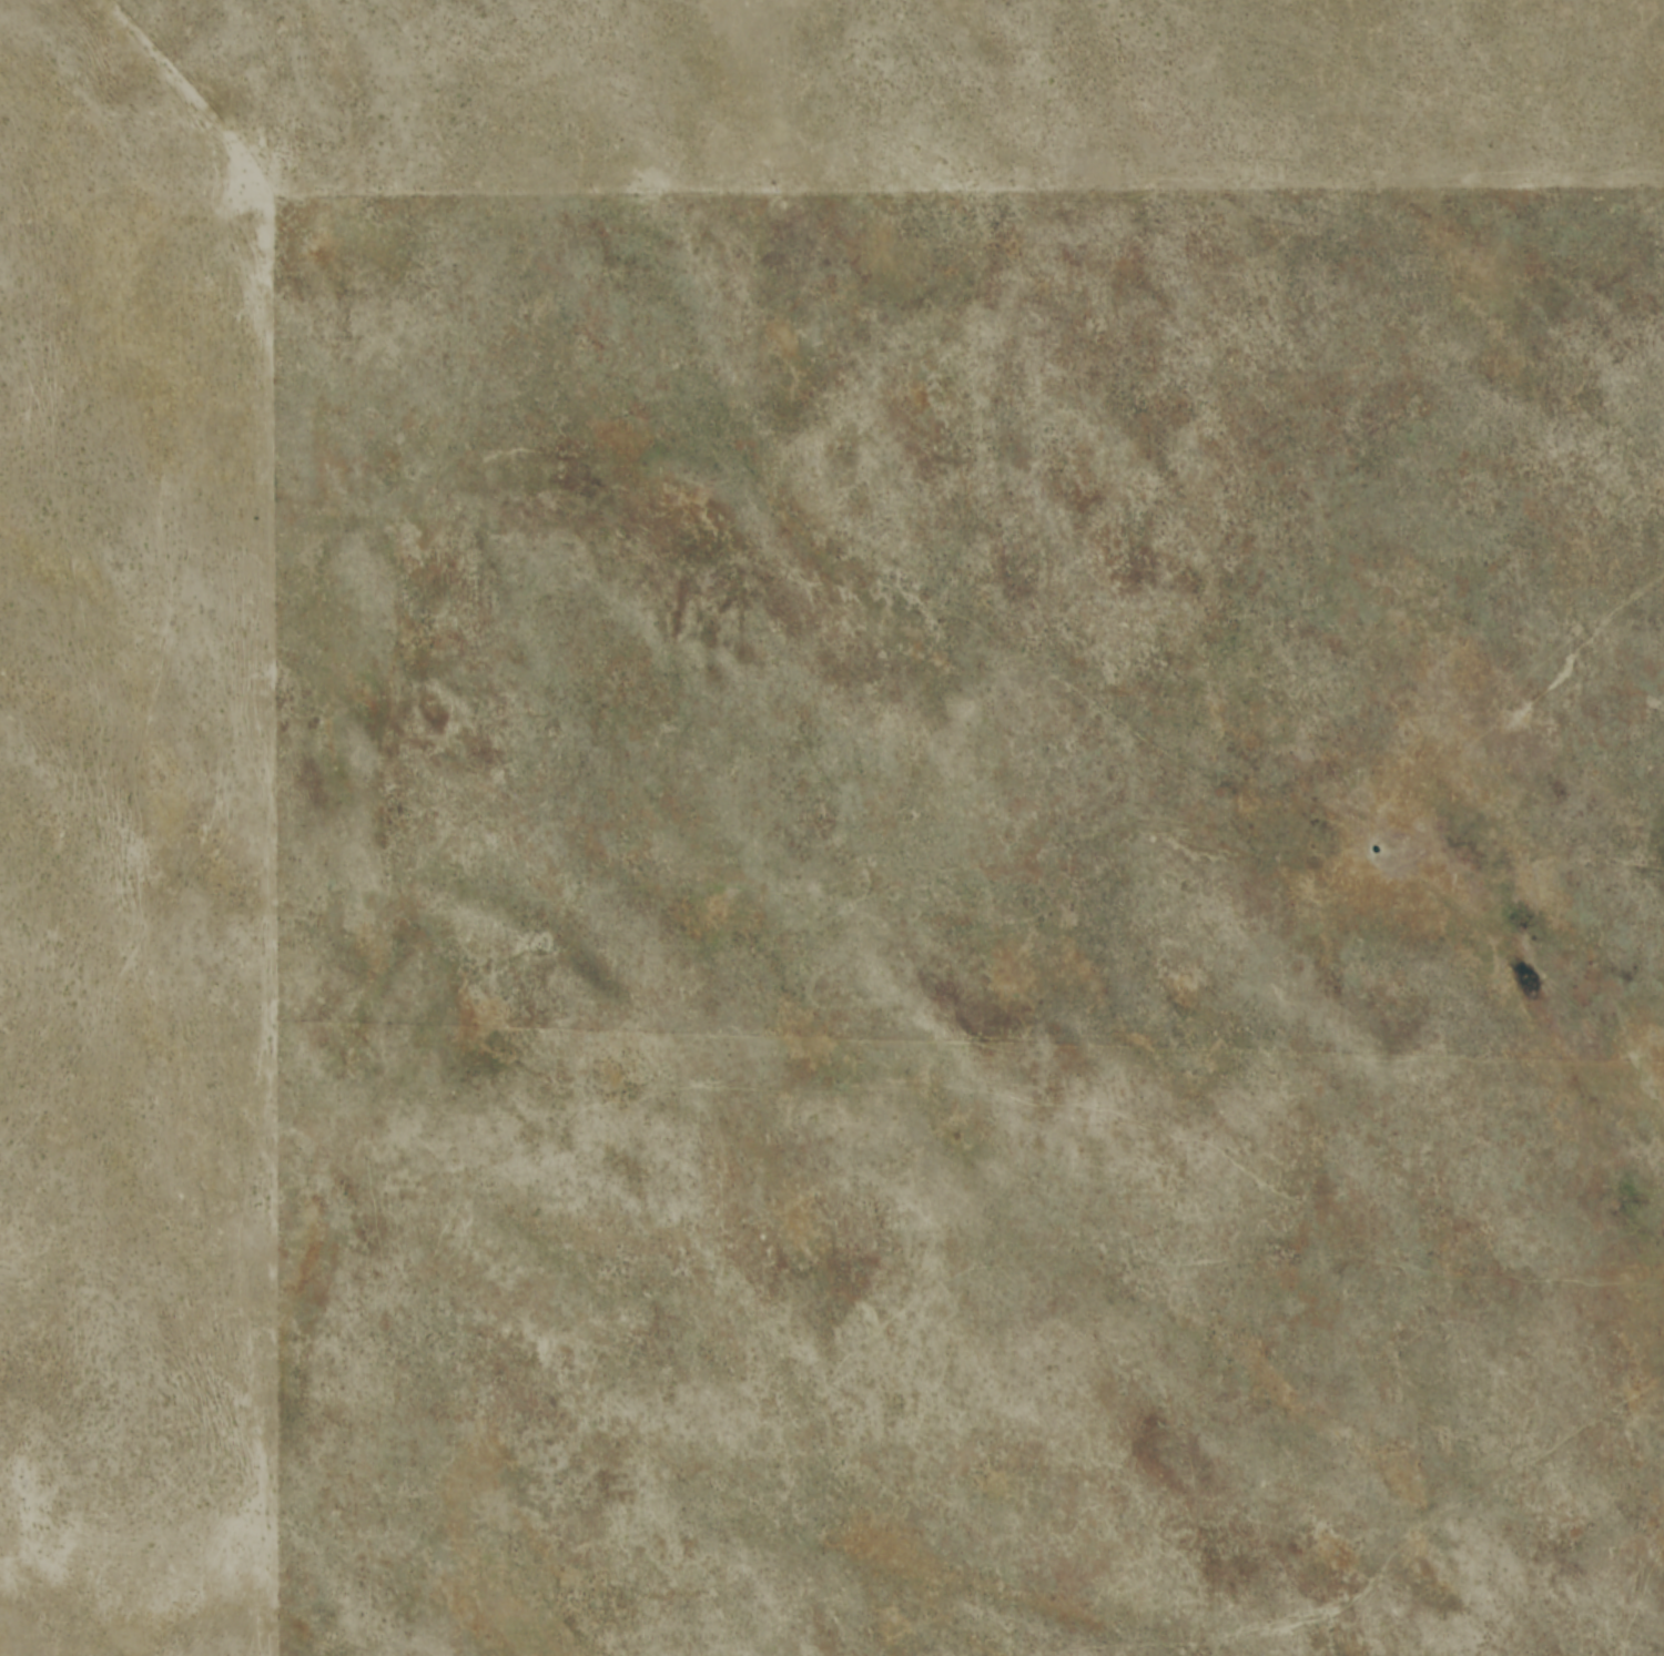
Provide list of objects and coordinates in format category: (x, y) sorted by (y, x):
road: (1540, 977)

